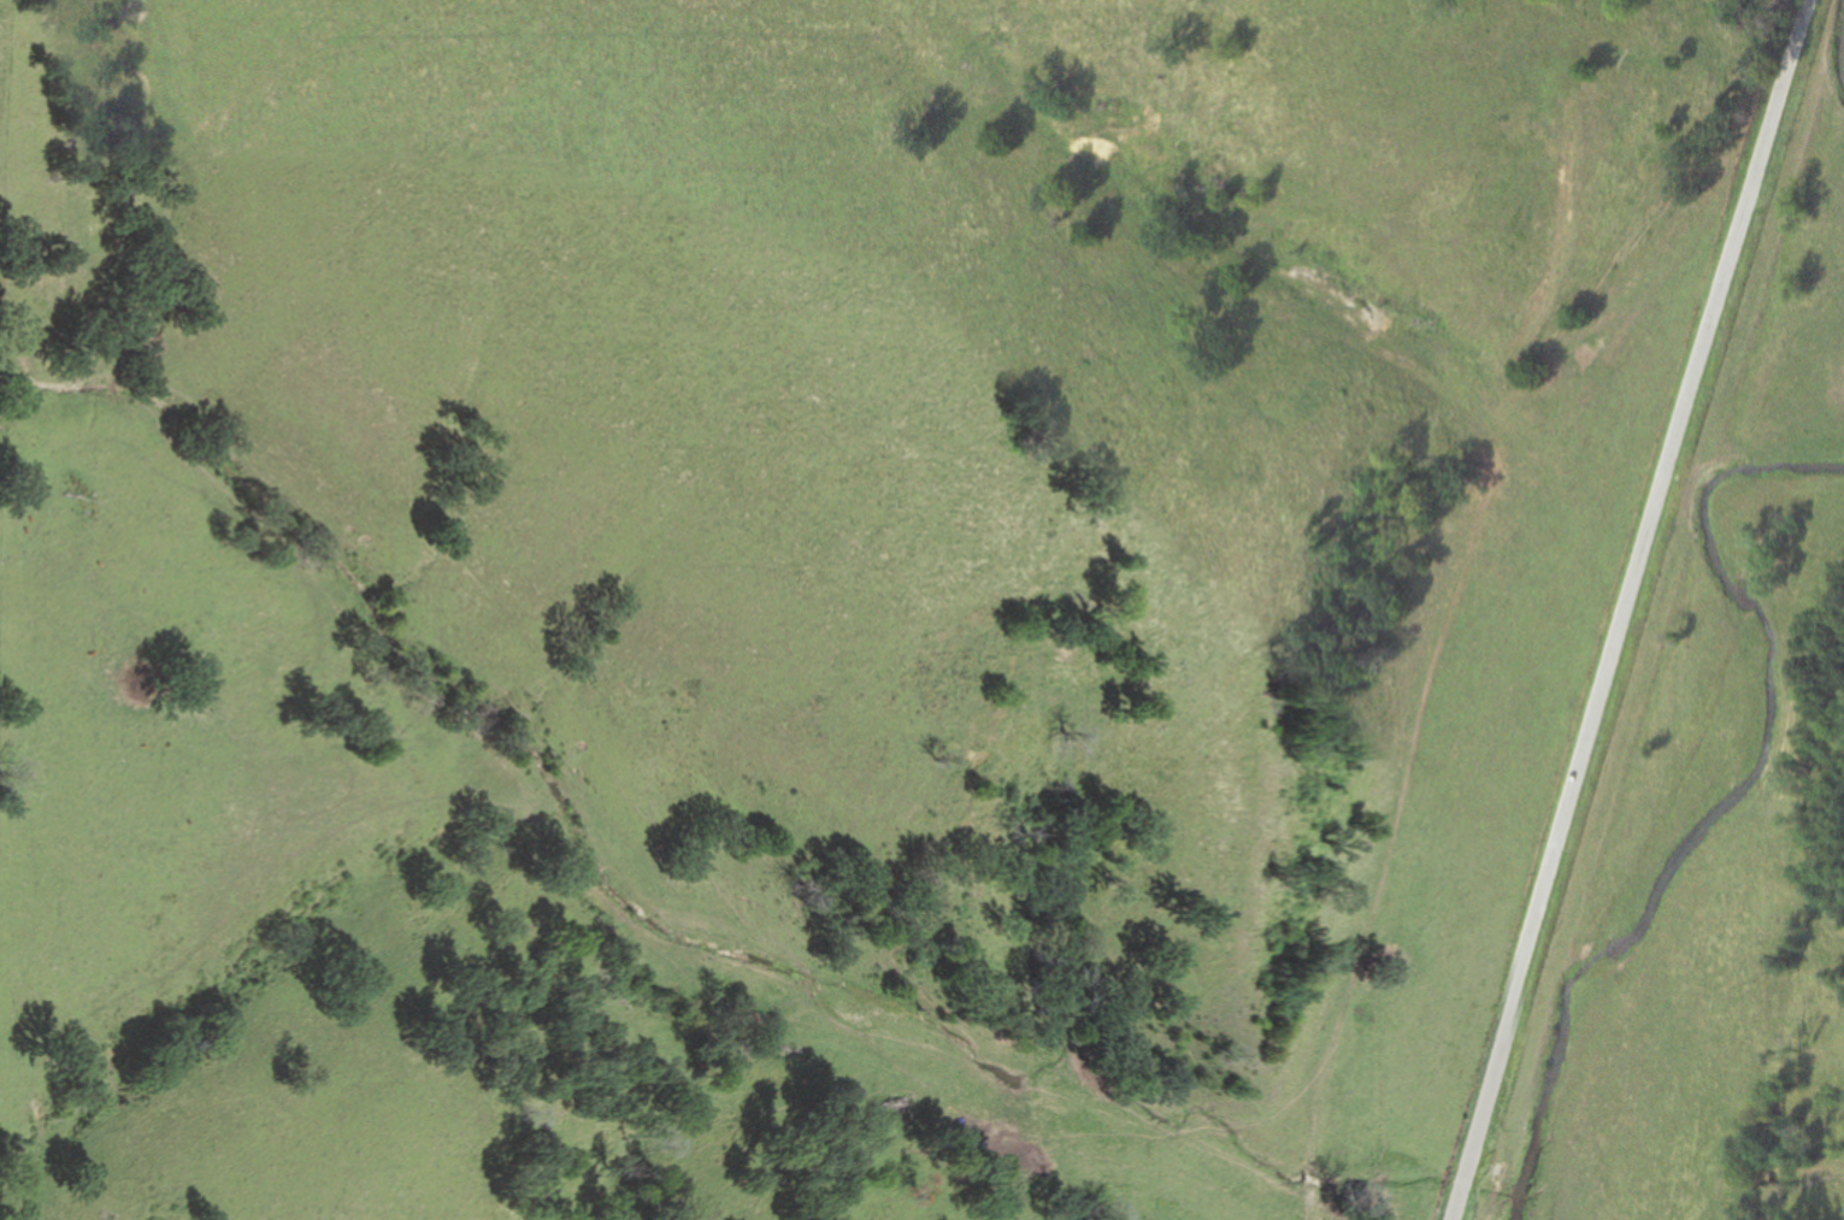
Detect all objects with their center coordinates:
road: (1626, 609)
road: (1302, 1189)
road: (1303, 1216)

